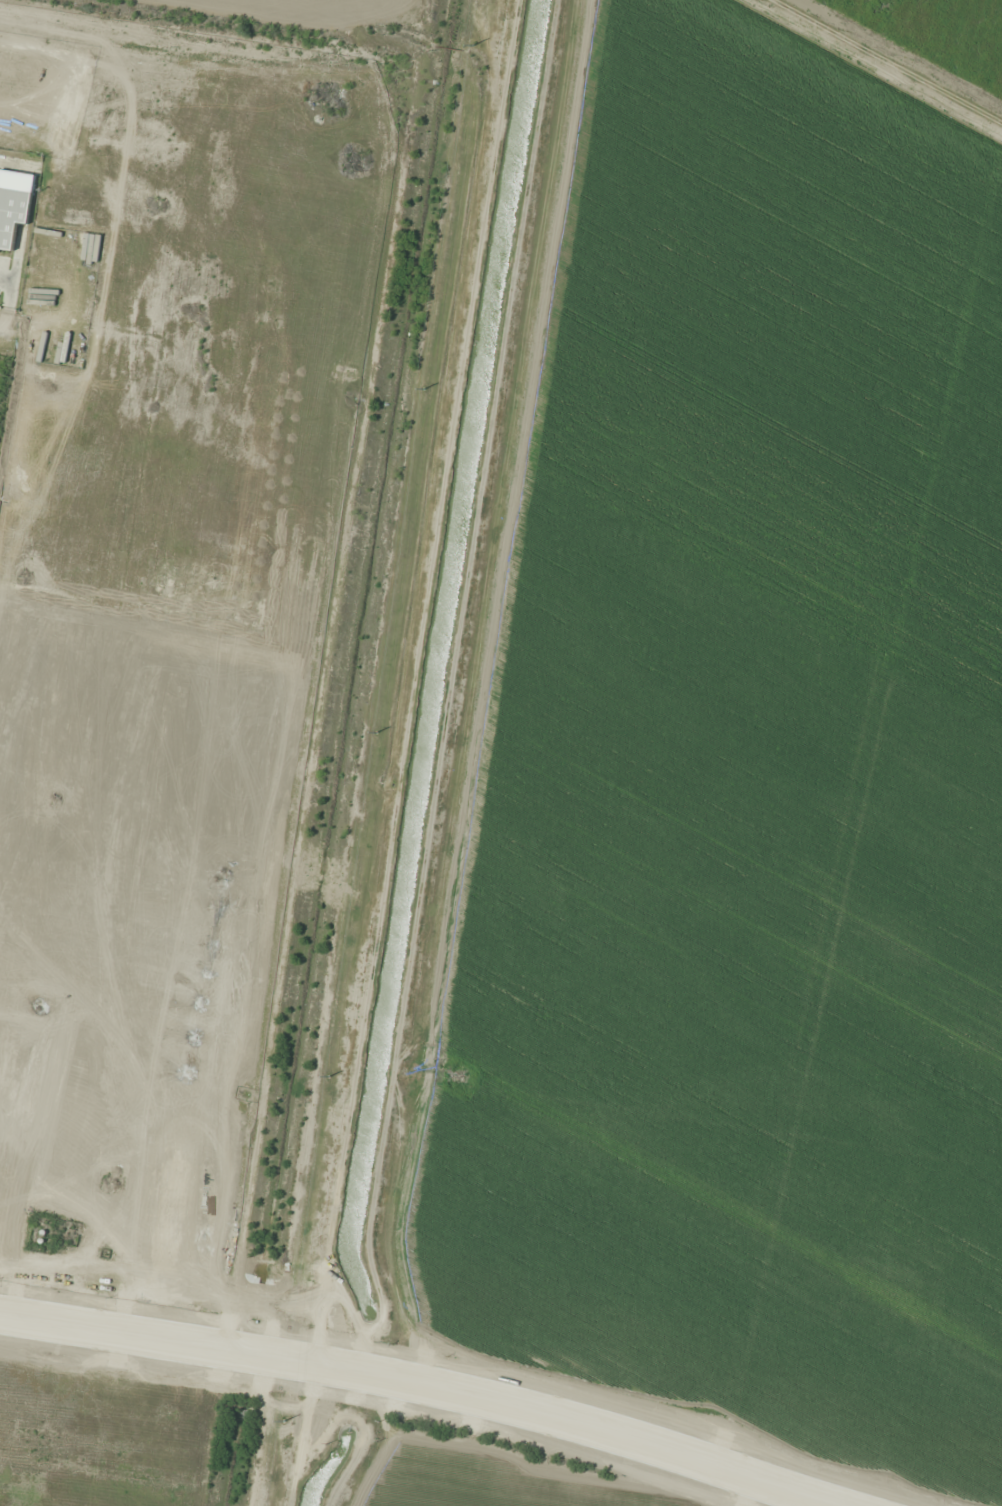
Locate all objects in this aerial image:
building: (12, 214)
road: (427, 1387)

